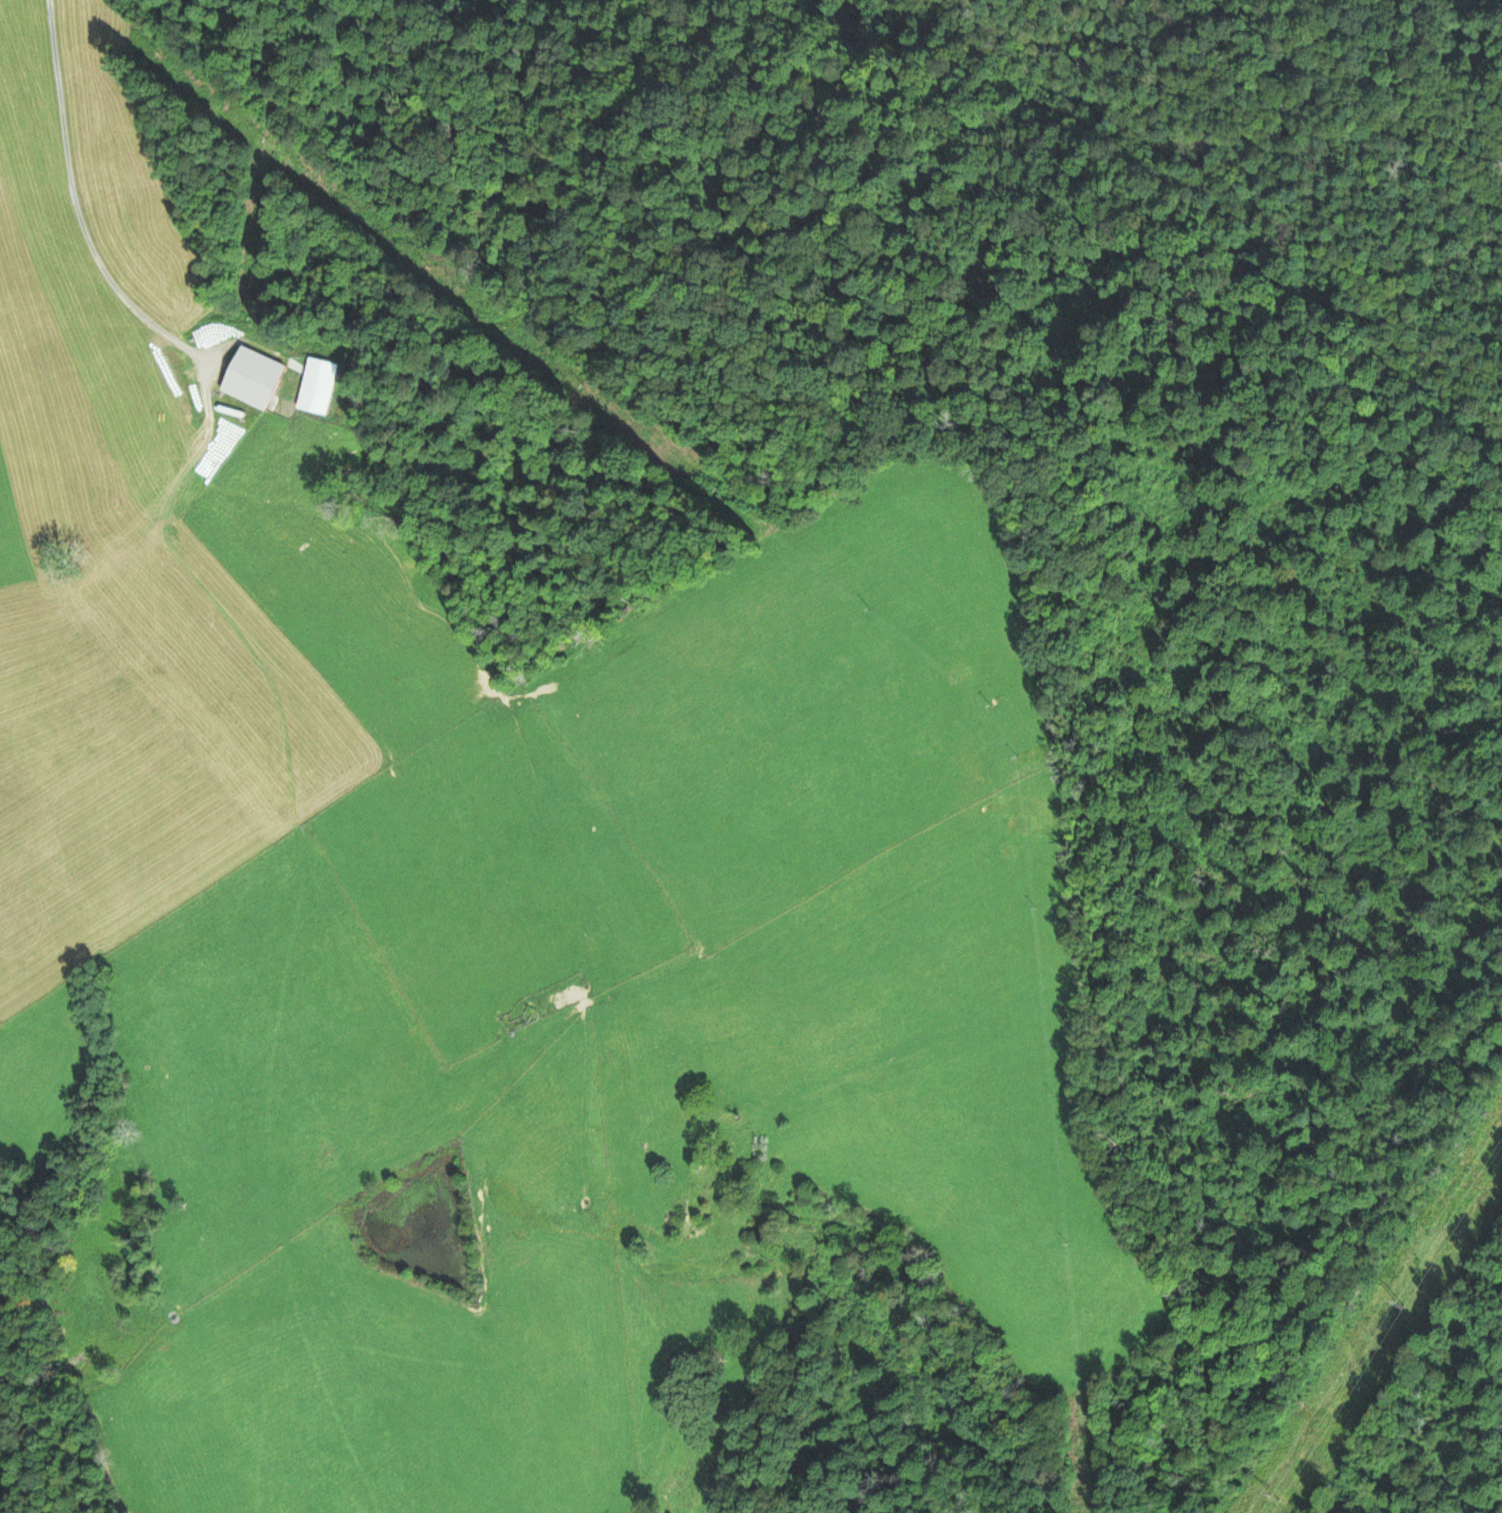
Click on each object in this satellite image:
road: (76, 211)
building: (256, 379)
power tower: (1401, 1306)
power tower: (1279, 1494)

